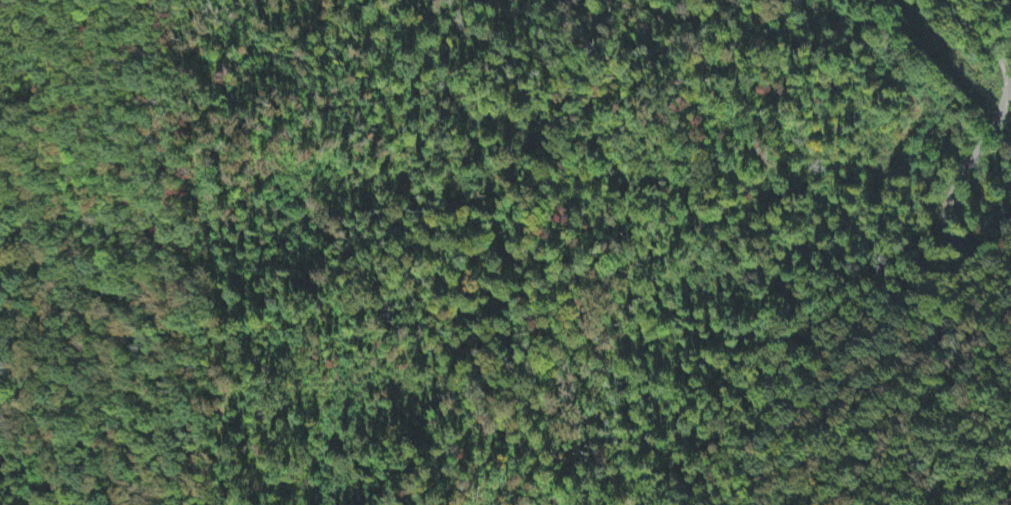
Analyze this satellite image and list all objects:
road: (982, 137)

